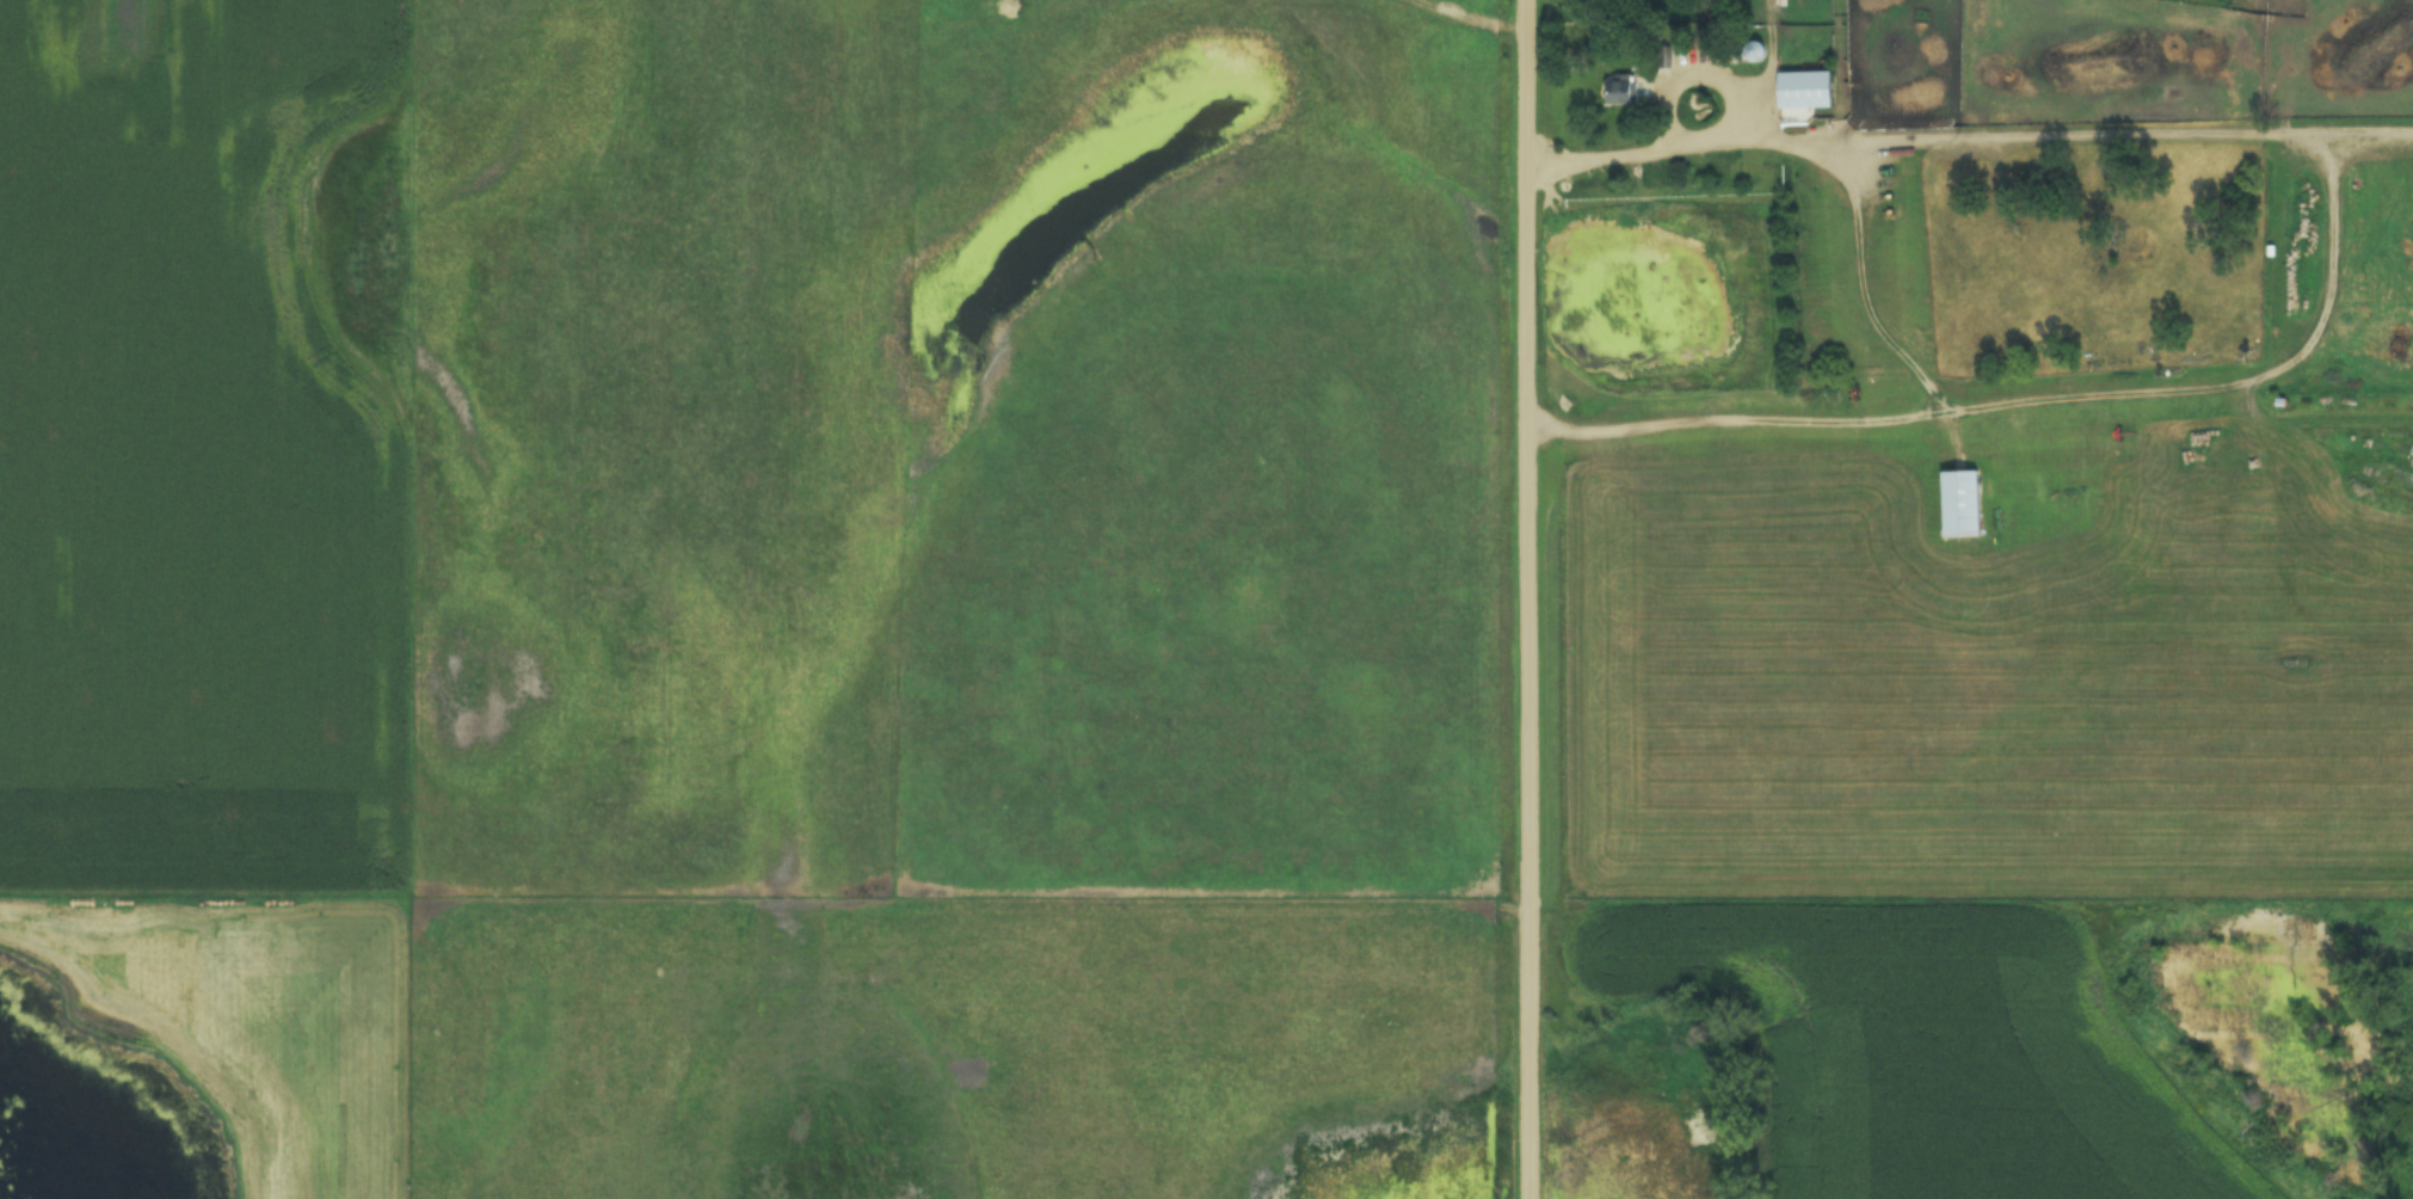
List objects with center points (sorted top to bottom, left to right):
building: (1754, 51)
building: (1621, 88)
building: (1805, 90)
road: (2333, 192)
road: (1883, 330)
crop: (203, 448)
building: (1962, 504)
road: (1529, 599)

